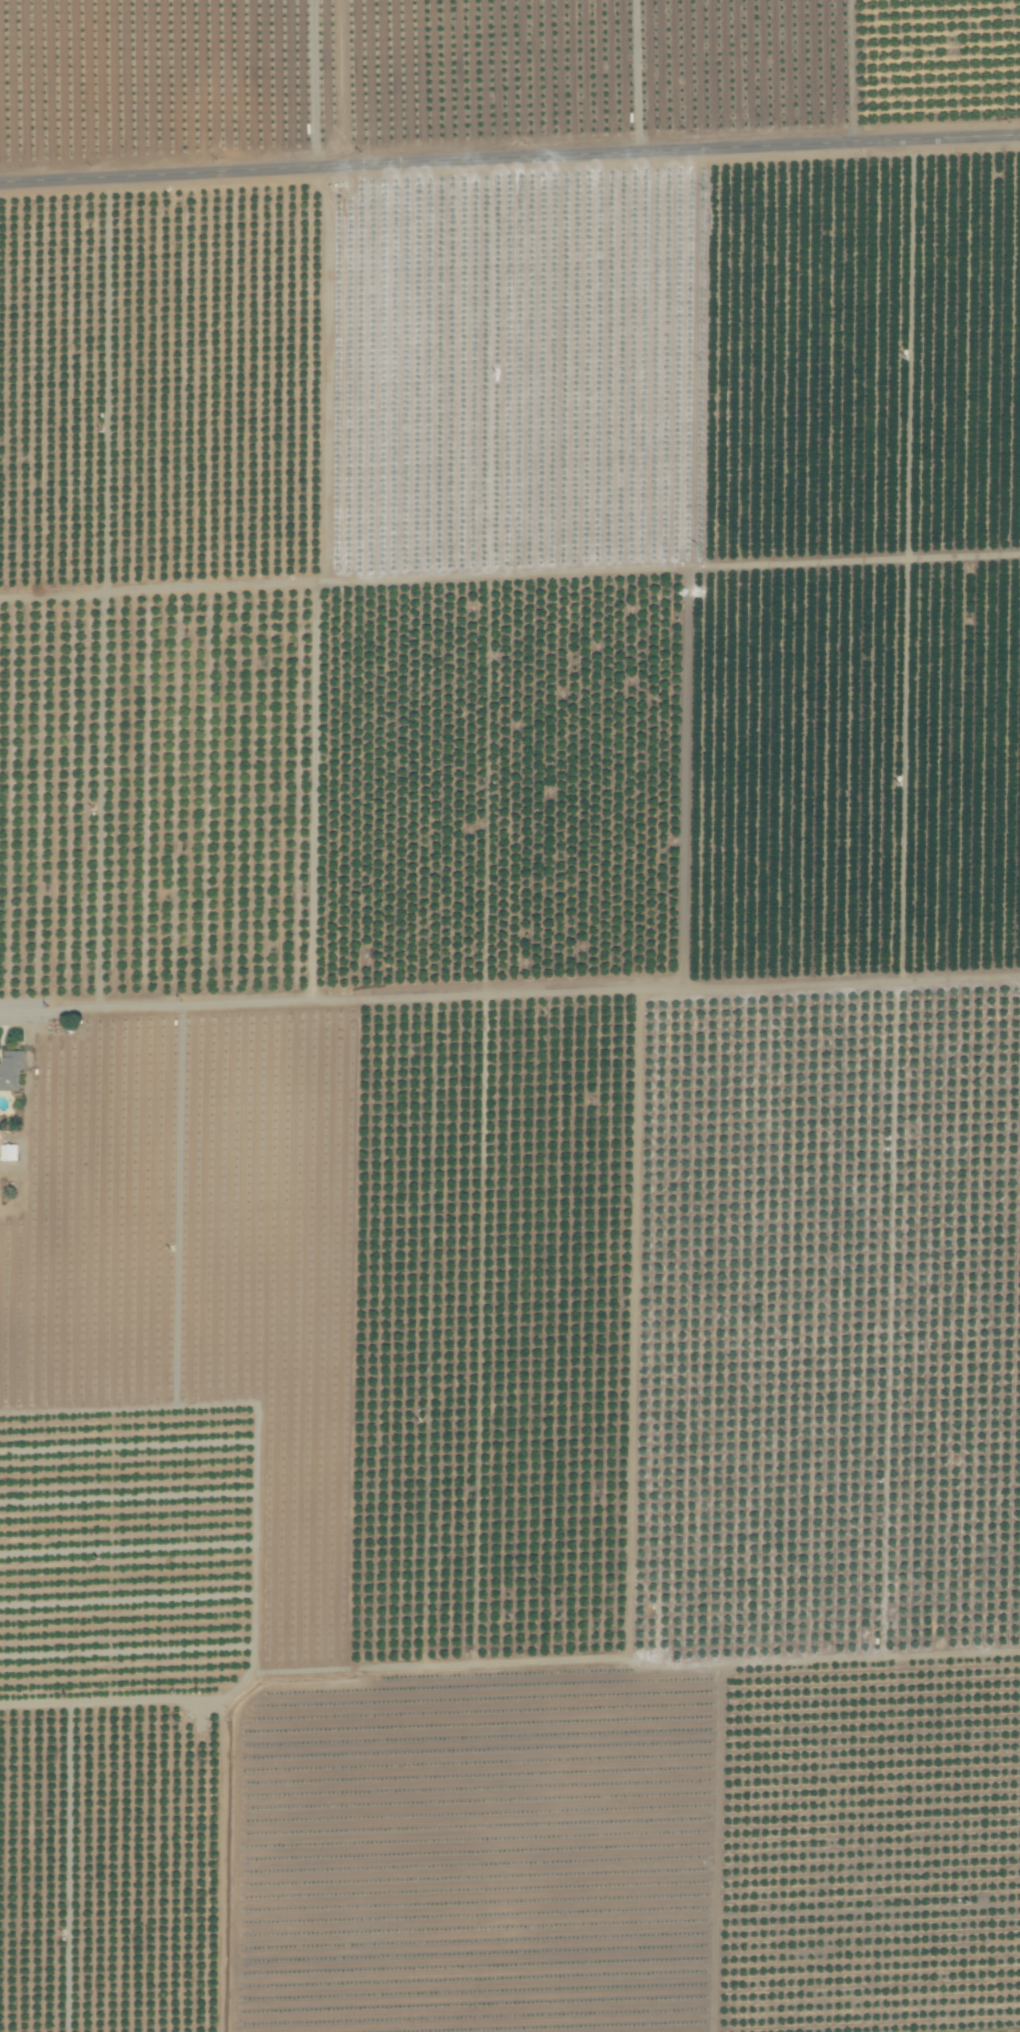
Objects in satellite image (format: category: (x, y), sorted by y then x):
road: (510, 162)
road: (509, 994)
crop: (510, 1016)
building: (10, 1069)
road: (223, 1759)

